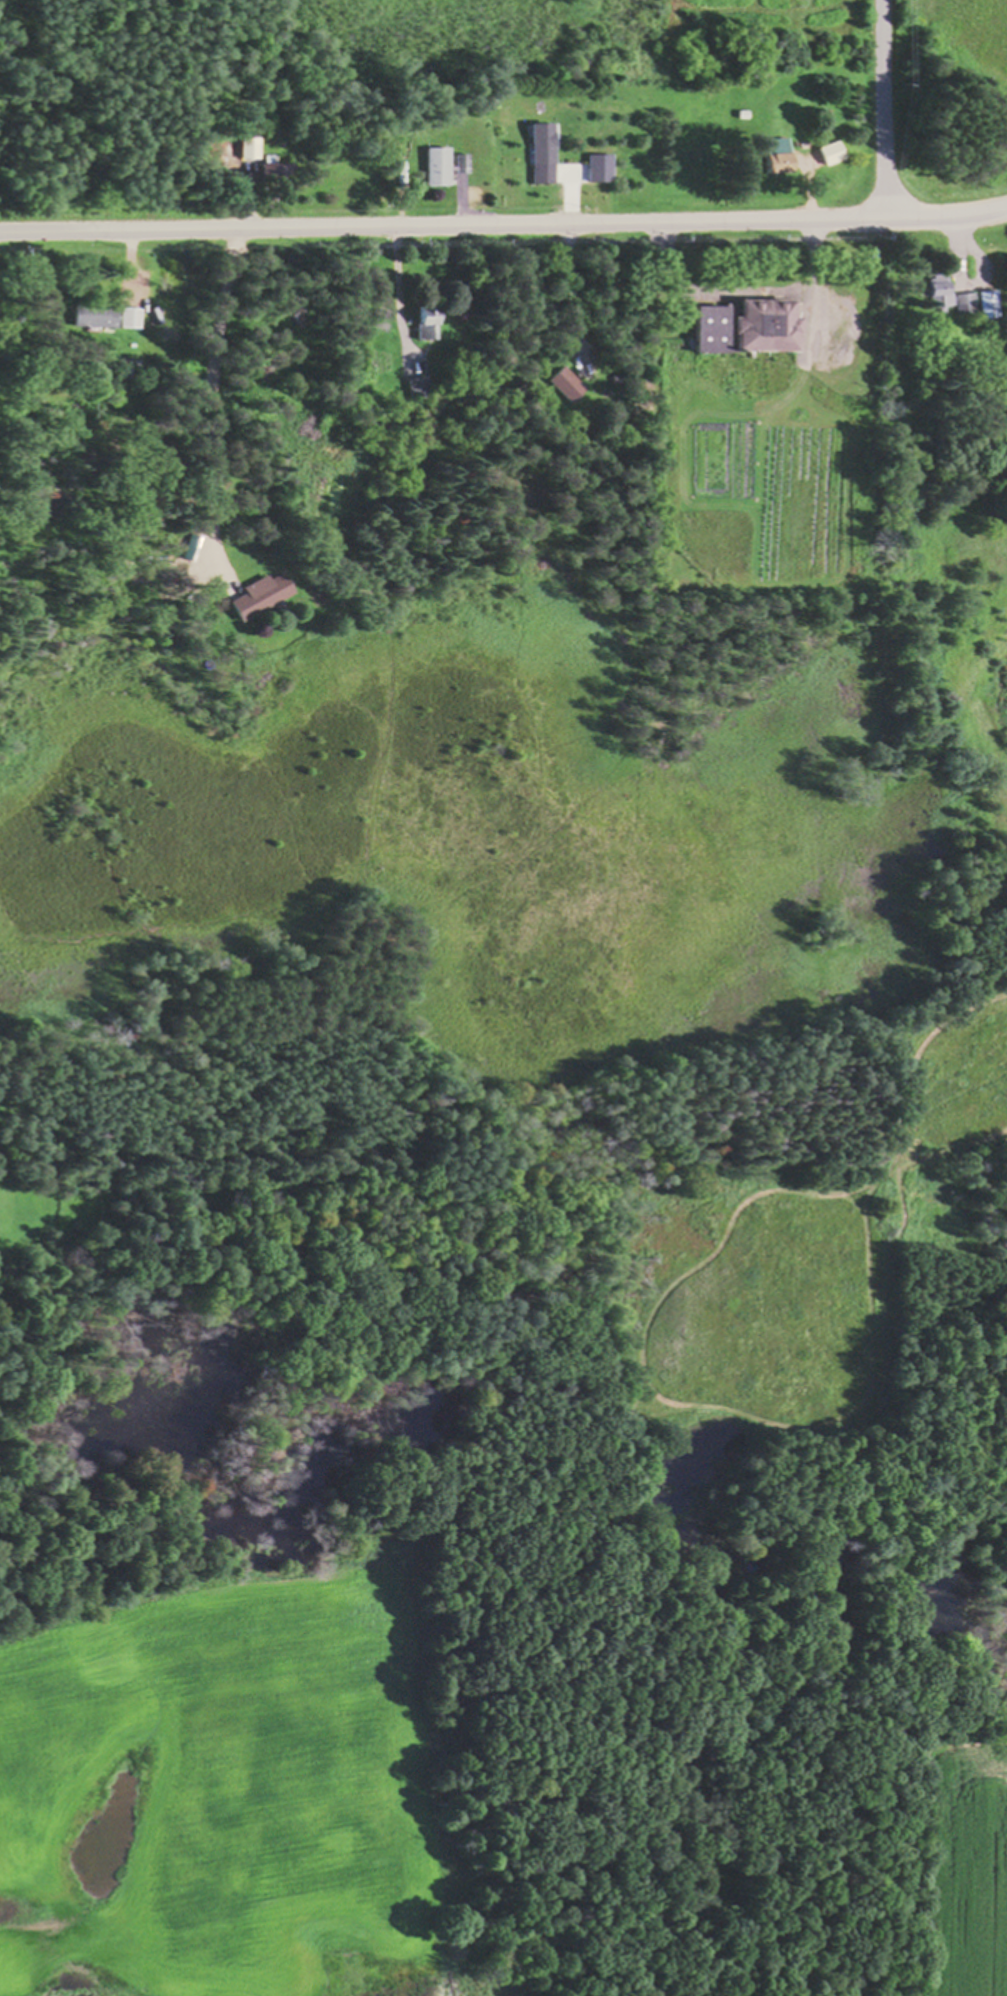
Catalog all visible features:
road: (884, 110)
building: (247, 148)
building: (537, 153)
building: (767, 156)
building: (431, 167)
building: (266, 171)
road: (504, 223)
building: (944, 295)
building: (91, 317)
building: (127, 318)
building: (421, 321)
building: (737, 326)
building: (562, 384)
building: (255, 595)

